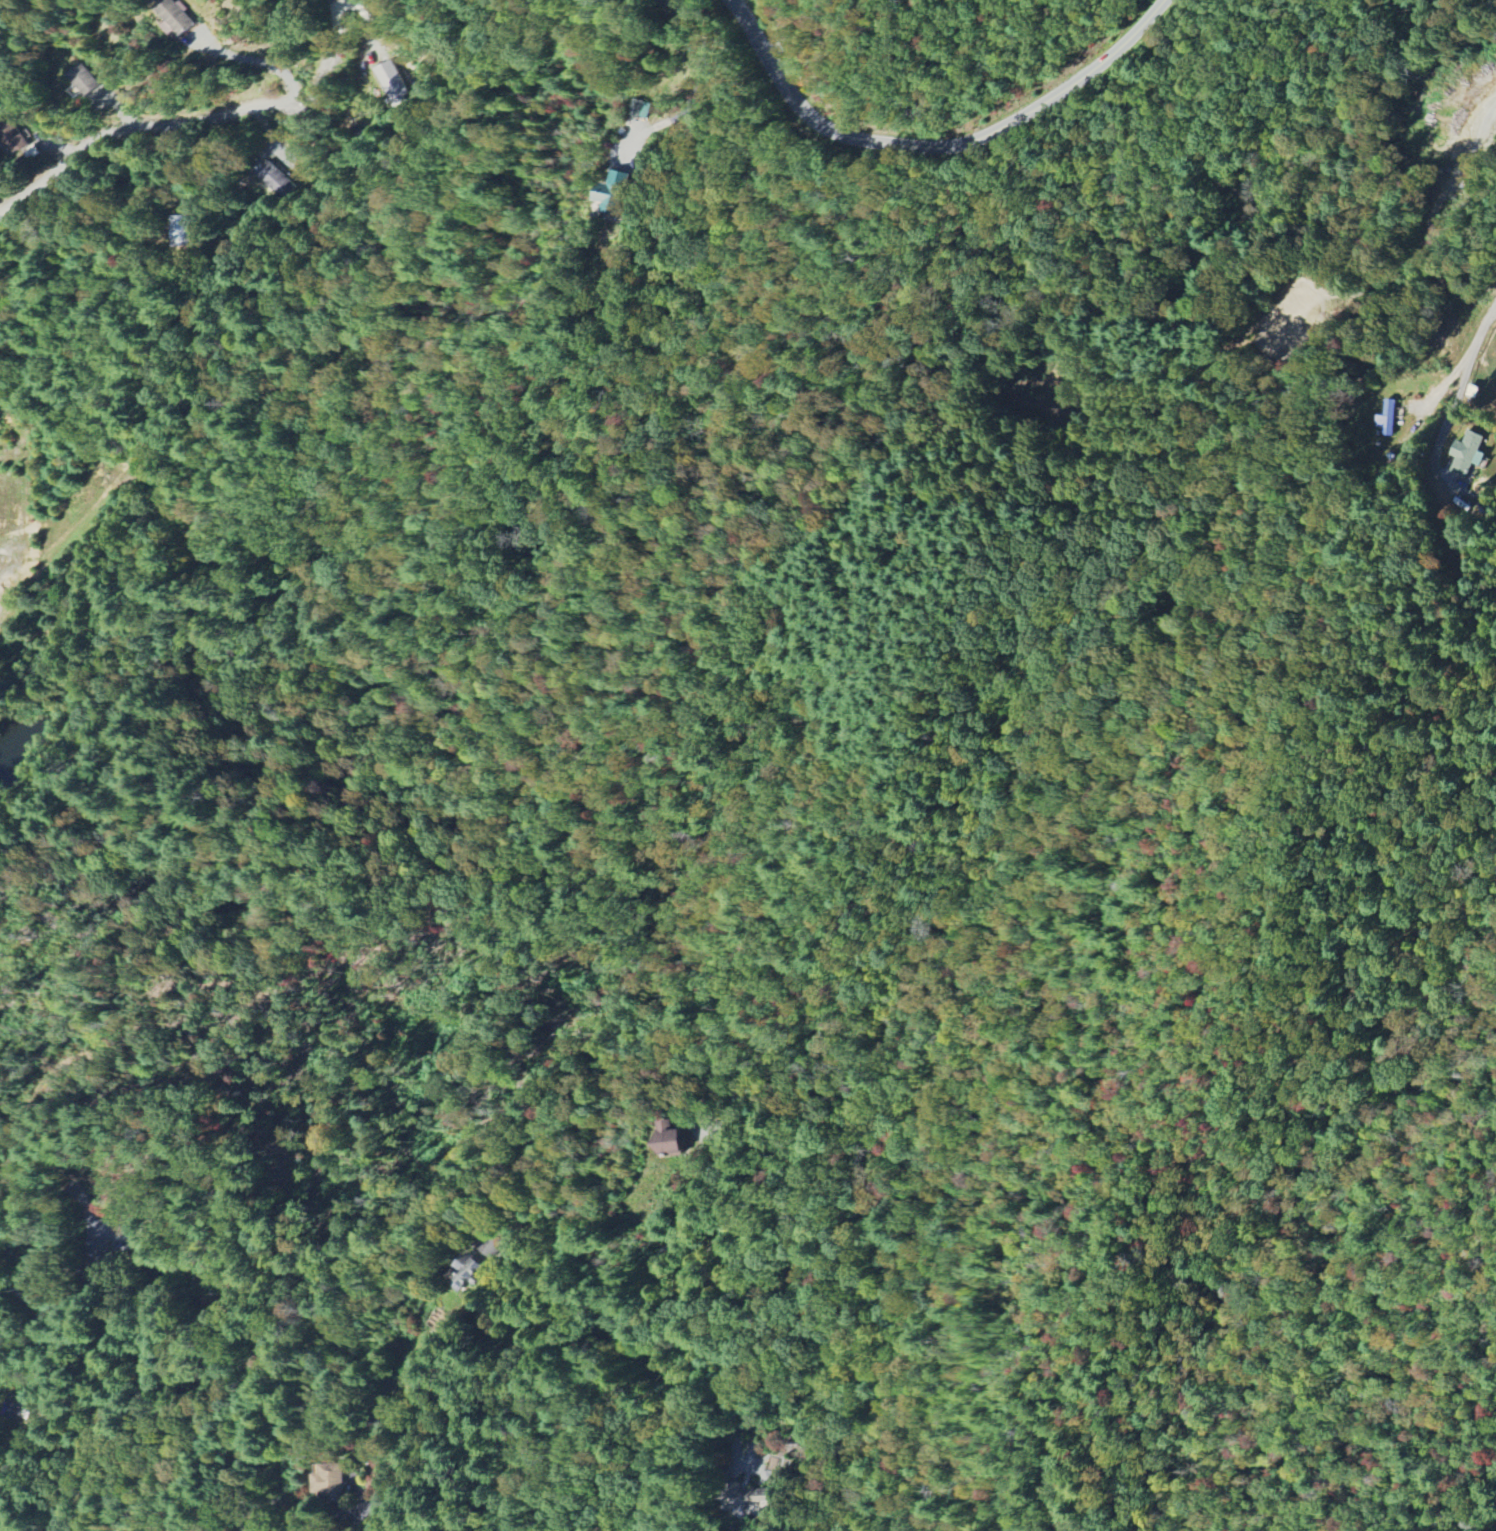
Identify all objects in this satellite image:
building: (175, 18)
road: (779, 27)
road: (324, 61)
road: (698, 79)
building: (83, 80)
building: (393, 83)
building: (640, 109)
road: (133, 126)
road: (936, 148)
building: (277, 179)
building: (617, 191)
building: (181, 230)
road: (1460, 390)
building: (1386, 419)
building: (1466, 453)
building: (672, 1138)
road: (522, 1330)
road: (103, 1350)
building: (332, 1482)
road: (260, 1488)

